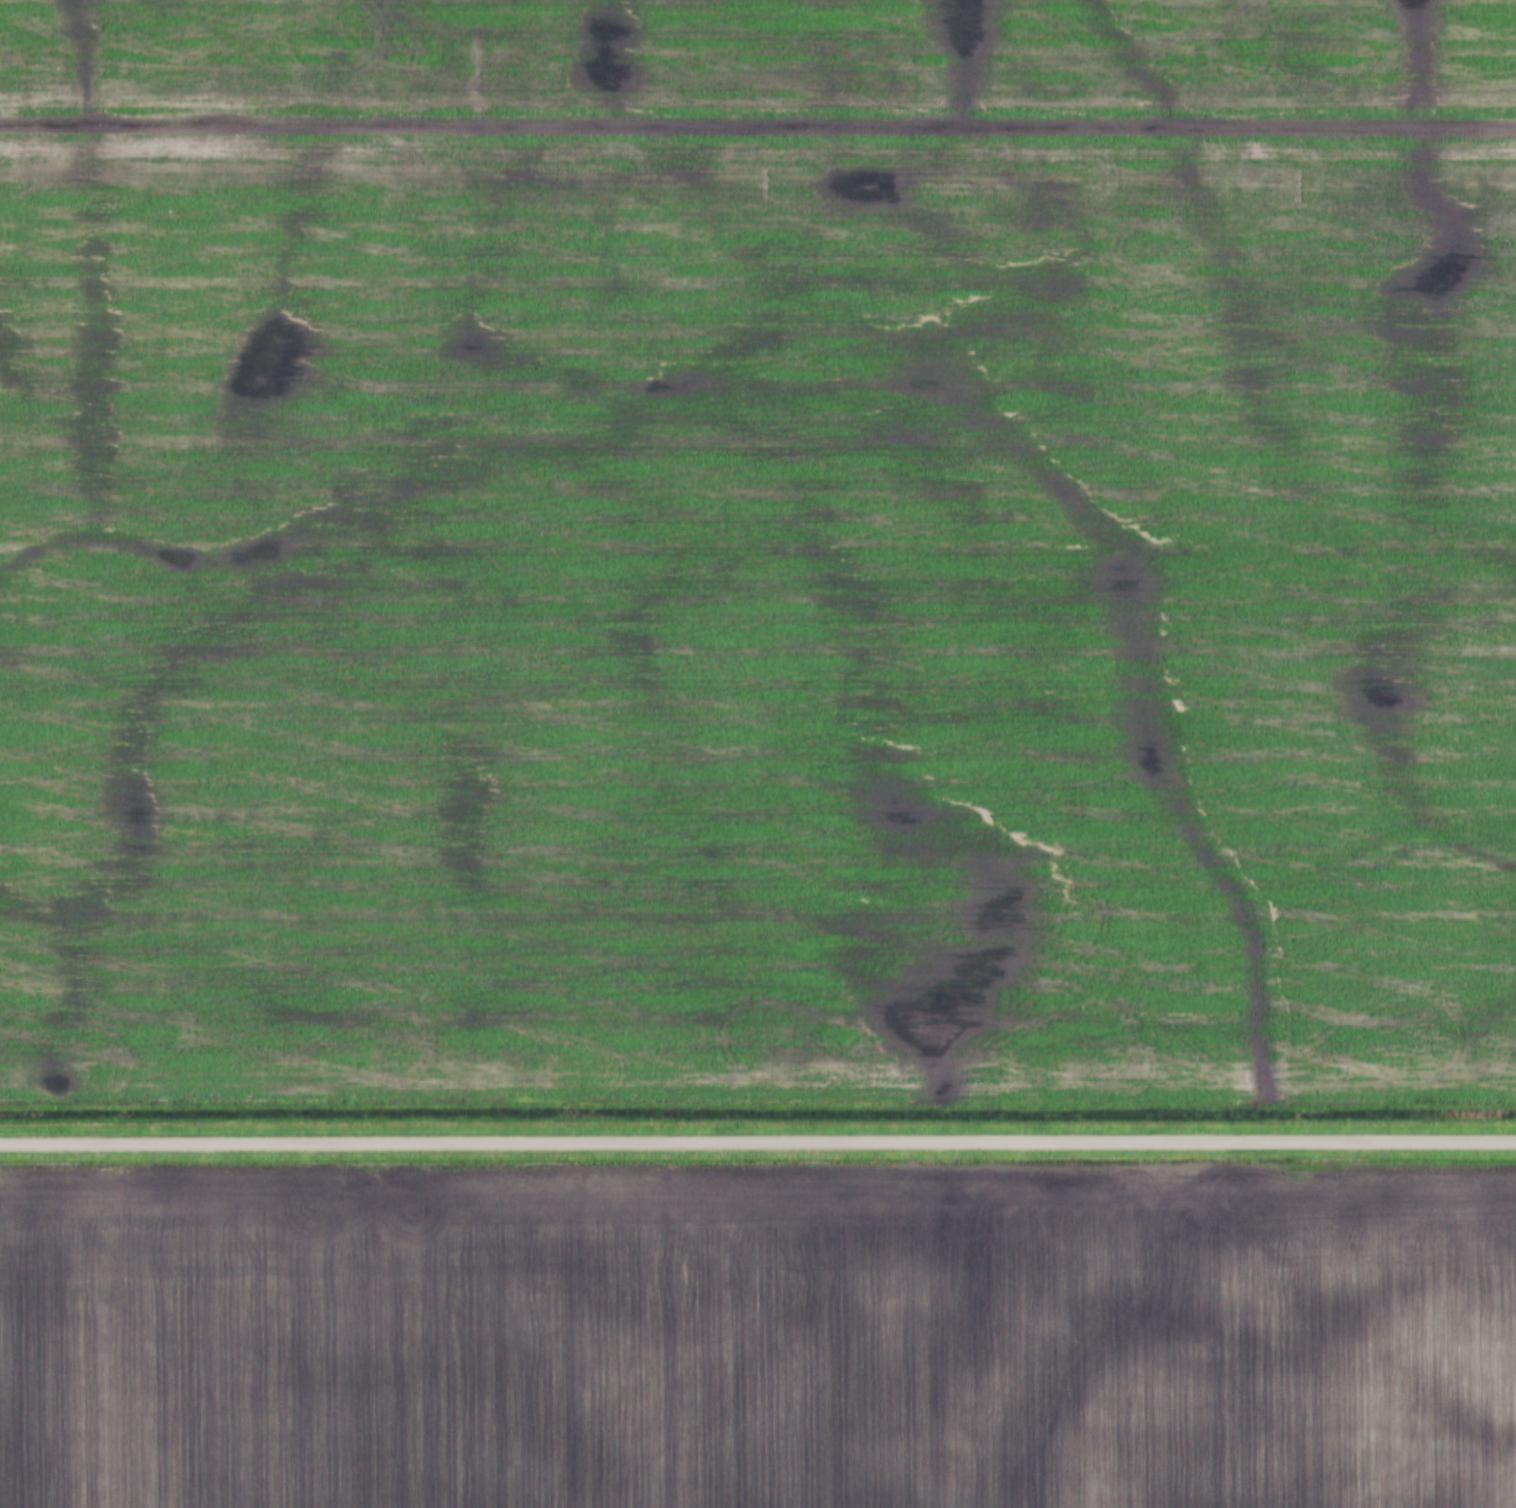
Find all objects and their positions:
road: (757, 1144)

